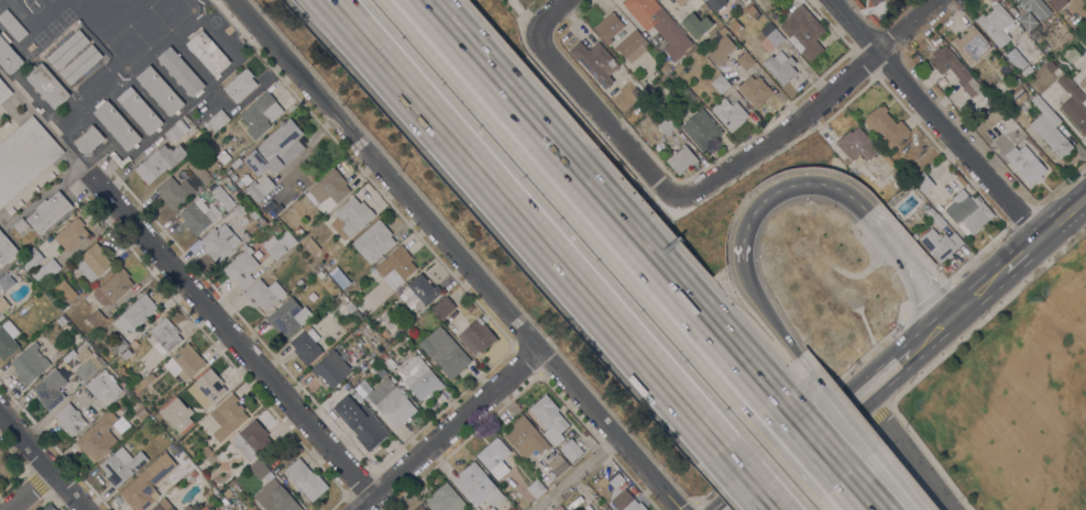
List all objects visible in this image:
building: (705, 0)
building: (745, 0)
building: (680, 1)
building: (691, 1)
building: (874, 2)
building: (737, 3)
building: (1056, 3)
building: (1034, 7)
road: (556, 11)
building: (1030, 22)
building: (996, 24)
building: (12, 25)
building: (660, 25)
building: (696, 25)
building: (608, 27)
building: (732, 29)
building: (722, 31)
building: (803, 31)
building: (1056, 40)
building: (970, 44)
building: (632, 46)
building: (749, 48)
building: (67, 49)
building: (721, 49)
building: (207, 52)
building: (774, 54)
building: (8, 57)
building: (1016, 59)
building: (1058, 59)
building: (745, 60)
building: (595, 62)
building: (80, 64)
building: (951, 67)
building: (665, 69)
building: (179, 71)
building: (1017, 80)
building: (720, 84)
building: (1083, 84)
building: (47, 85)
building: (240, 85)
building: (160, 90)
building: (755, 90)
building: (3, 91)
building: (688, 95)
building: (630, 100)
building: (1073, 103)
road: (595, 107)
building: (139, 110)
building: (730, 113)
building: (261, 114)
road: (805, 115)
road: (935, 118)
building: (218, 120)
building: (116, 124)
building: (666, 125)
building: (886, 125)
building: (701, 129)
building: (1049, 129)
building: (176, 131)
building: (199, 135)
building: (88, 140)
building: (206, 144)
building: (856, 144)
building: (275, 148)
building: (222, 156)
building: (24, 157)
building: (681, 159)
building: (160, 162)
building: (1024, 164)
building: (199, 171)
building: (923, 184)
building: (260, 188)
building: (329, 189)
building: (174, 192)
building: (221, 196)
road: (849, 196)
road: (601, 200)
building: (239, 210)
building: (48, 212)
building: (967, 212)
building: (254, 213)
building: (271, 213)
building: (197, 215)
building: (351, 218)
building: (935, 218)
road: (522, 222)
building: (261, 223)
building: (21, 226)
building: (298, 231)
building: (72, 233)
building: (373, 241)
building: (219, 242)
building: (940, 244)
building: (311, 245)
building: (276, 246)
building: (6, 250)
road: (454, 255)
building: (31, 259)
building: (92, 262)
building: (396, 263)
building: (241, 267)
building: (13, 269)
building: (46, 270)
building: (319, 274)
building: (342, 280)
building: (6, 281)
building: (113, 287)
building: (66, 290)
building: (418, 290)
building: (264, 293)
building: (443, 307)
building: (2, 308)
building: (351, 308)
building: (135, 313)
road: (765, 313)
building: (355, 315)
building: (286, 317)
building: (95, 319)
building: (61, 320)
building: (384, 334)
building: (164, 335)
building: (476, 337)
building: (8, 339)
building: (118, 344)
building: (306, 345)
road: (240, 347)
building: (445, 353)
road: (908, 353)
building: (125, 354)
building: (387, 361)
building: (184, 362)
building: (30, 364)
building: (87, 364)
building: (332, 367)
building: (147, 379)
building: (419, 379)
building: (103, 387)
building: (207, 388)
building: (50, 389)
building: (362, 389)
building: (391, 401)
road: (874, 406)
road: (842, 409)
building: (140, 411)
building: (228, 417)
building: (549, 418)
building: (69, 419)
building: (361, 422)
road: (450, 431)
building: (179, 433)
building: (526, 437)
building: (97, 440)
building: (251, 440)
road: (812, 440)
building: (570, 450)
building: (206, 452)
building: (493, 456)
road: (41, 463)
building: (257, 464)
building: (187, 465)
building: (558, 465)
road: (918, 465)
building: (121, 466)
building: (7, 467)
building: (196, 472)
road: (579, 475)
building: (268, 476)
road: (745, 477)
building: (306, 479)
building: (614, 479)
building: (146, 483)
building: (474, 484)
road: (901, 484)
building: (536, 488)
building: (599, 490)
building: (227, 492)
road: (33, 494)
road: (859, 495)
building: (278, 498)
building: (445, 499)
building: (629, 500)
building: (157, 507)
building: (419, 507)
building: (171, 508)
building: (186, 508)
building: (204, 508)
building: (491, 508)
building: (512, 508)
building: (558, 508)
building: (252, 509)
building: (253, 509)

